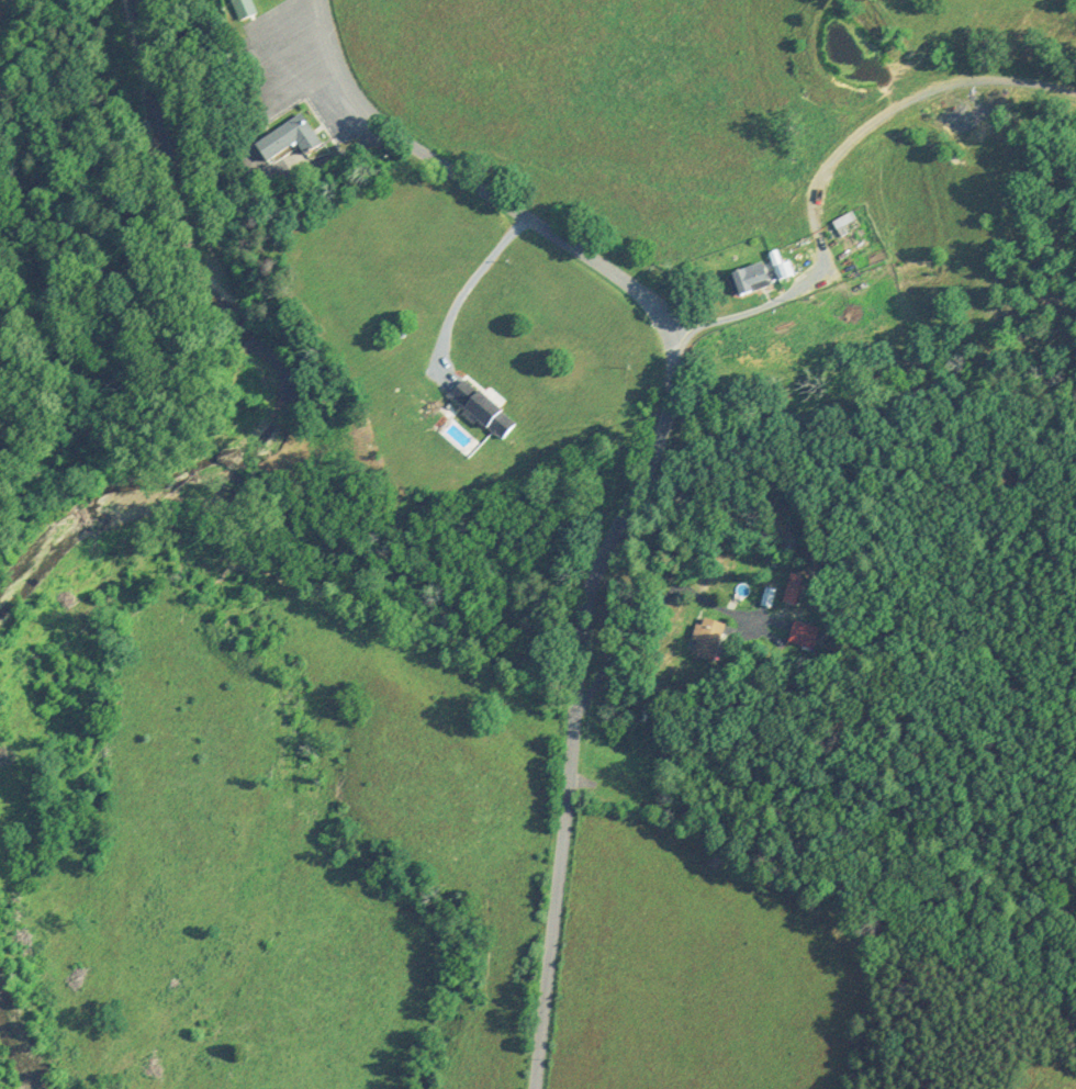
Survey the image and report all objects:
building: (288, 139)
building: (848, 229)
building: (750, 279)
river: (273, 369)
building: (481, 409)
road: (645, 468)
building: (793, 588)
building: (803, 633)
river: (13, 1060)

